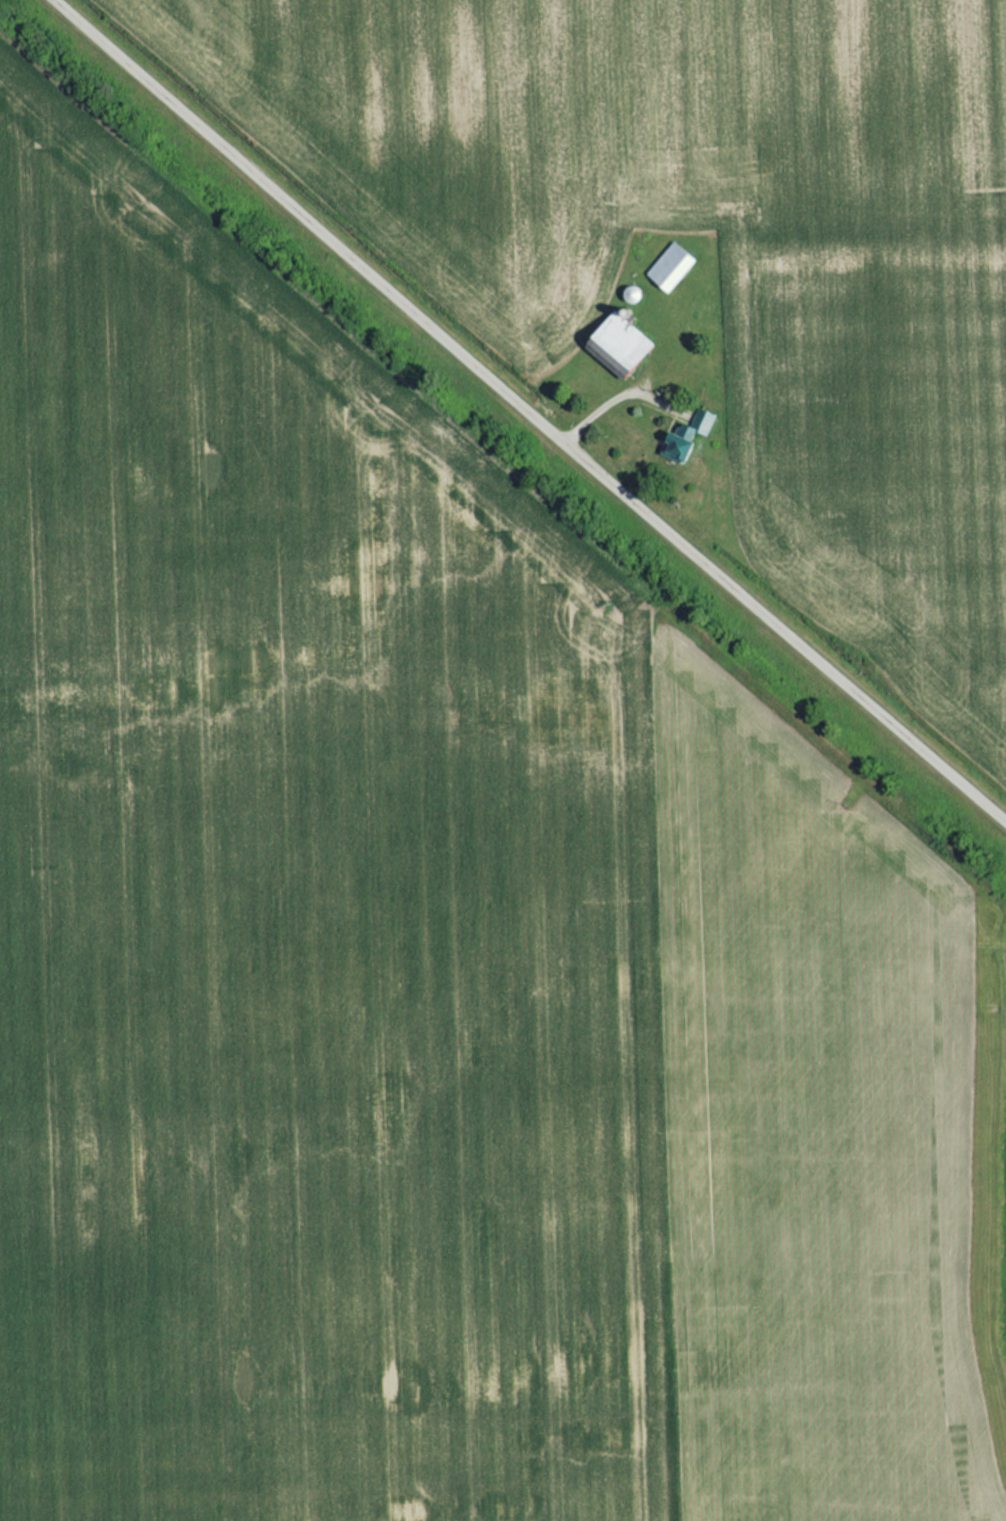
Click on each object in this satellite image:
crop: (712, 249)
building: (664, 267)
building: (614, 343)
road: (534, 410)
railway: (503, 469)
crop: (421, 969)

